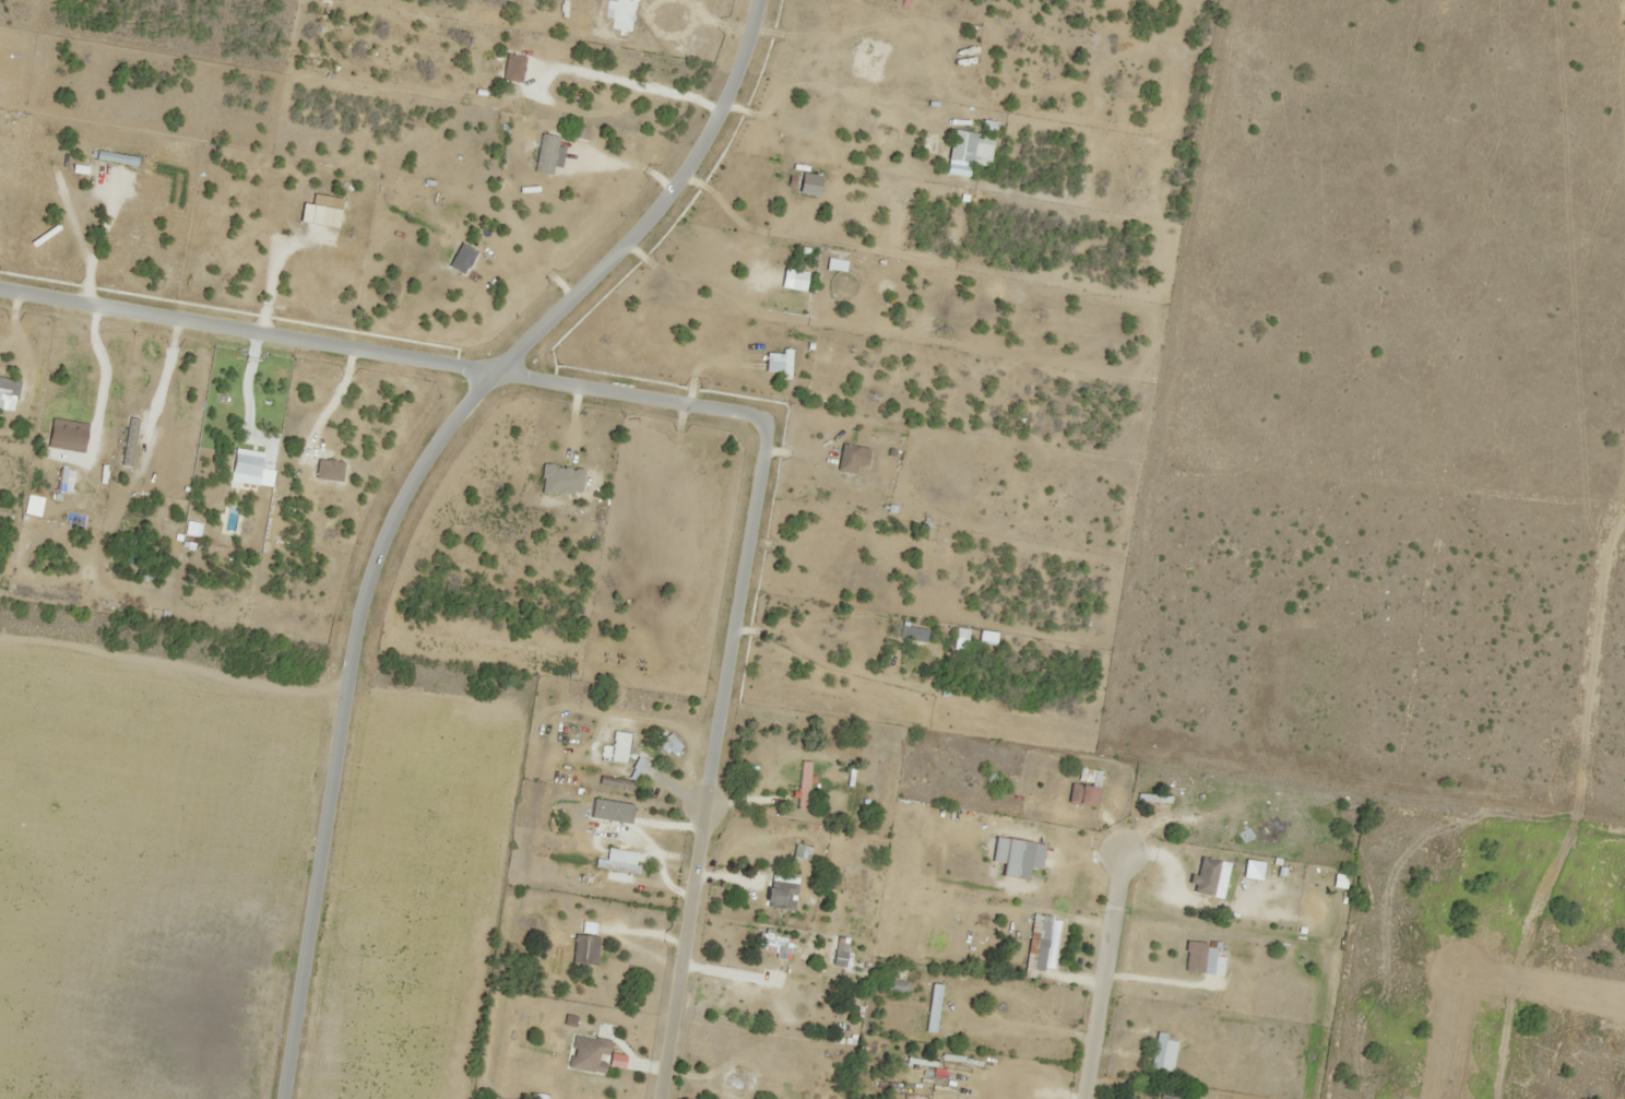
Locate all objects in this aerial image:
road: (576, 383)
road: (402, 495)
building: (672, 745)
building: (631, 764)
building: (795, 784)
building: (1093, 788)
building: (1191, 813)
building: (615, 865)
building: (1205, 875)
building: (781, 894)
building: (1042, 942)
building: (584, 949)
road: (681, 953)
building: (839, 958)
building: (1198, 958)
road: (1103, 979)
building: (897, 985)
building: (1162, 1052)
building: (588, 1053)
building: (1167, 1097)

